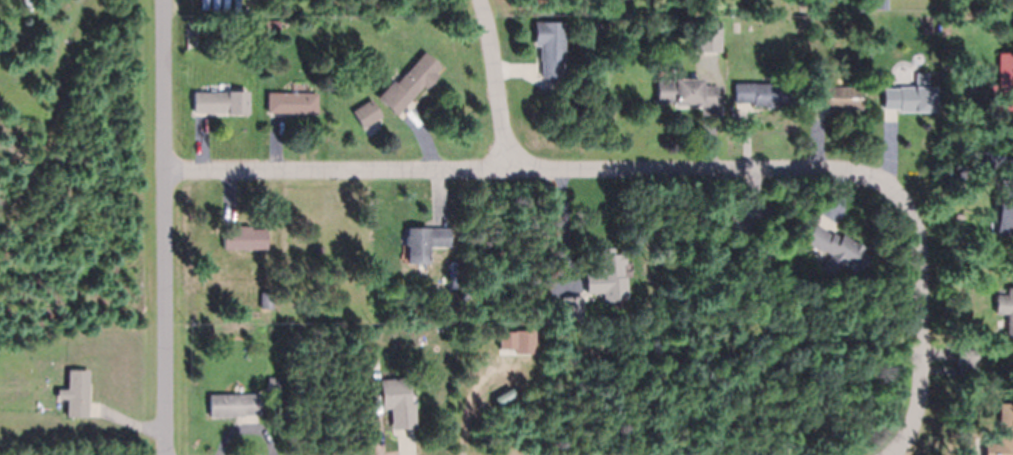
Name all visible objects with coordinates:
building: (191, 0)
building: (880, 4)
building: (860, 5)
building: (192, 23)
building: (271, 24)
building: (596, 26)
building: (707, 36)
building: (551, 49)
building: (920, 77)
building: (999, 81)
building: (407, 84)
road: (495, 84)
building: (685, 92)
building: (762, 93)
building: (834, 97)
building: (909, 98)
building: (220, 102)
building: (291, 102)
building: (807, 110)
building: (366, 113)
building: (981, 160)
road: (662, 169)
building: (1004, 208)
building: (741, 226)
road: (165, 227)
building: (244, 238)
building: (423, 242)
building: (836, 247)
building: (608, 276)
building: (266, 300)
building: (443, 301)
building: (1005, 306)
building: (572, 308)
building: (556, 312)
building: (489, 336)
building: (524, 341)
building: (966, 359)
building: (74, 393)
building: (400, 402)
building: (234, 405)
building: (1002, 433)
road: (902, 446)

